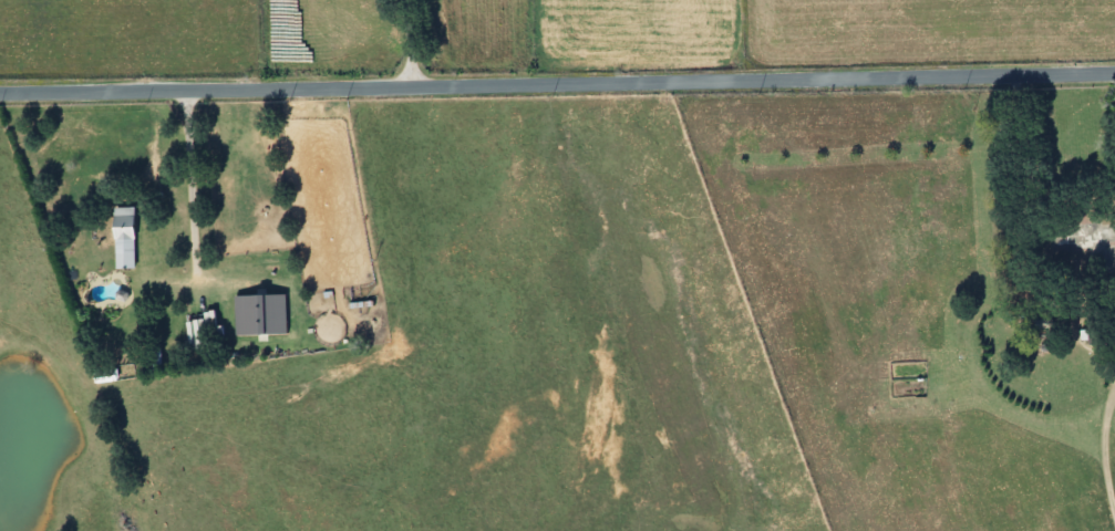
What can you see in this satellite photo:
road: (405, 40)
road: (557, 77)
road: (187, 169)
building: (118, 238)
building: (148, 360)
road: (1099, 445)

